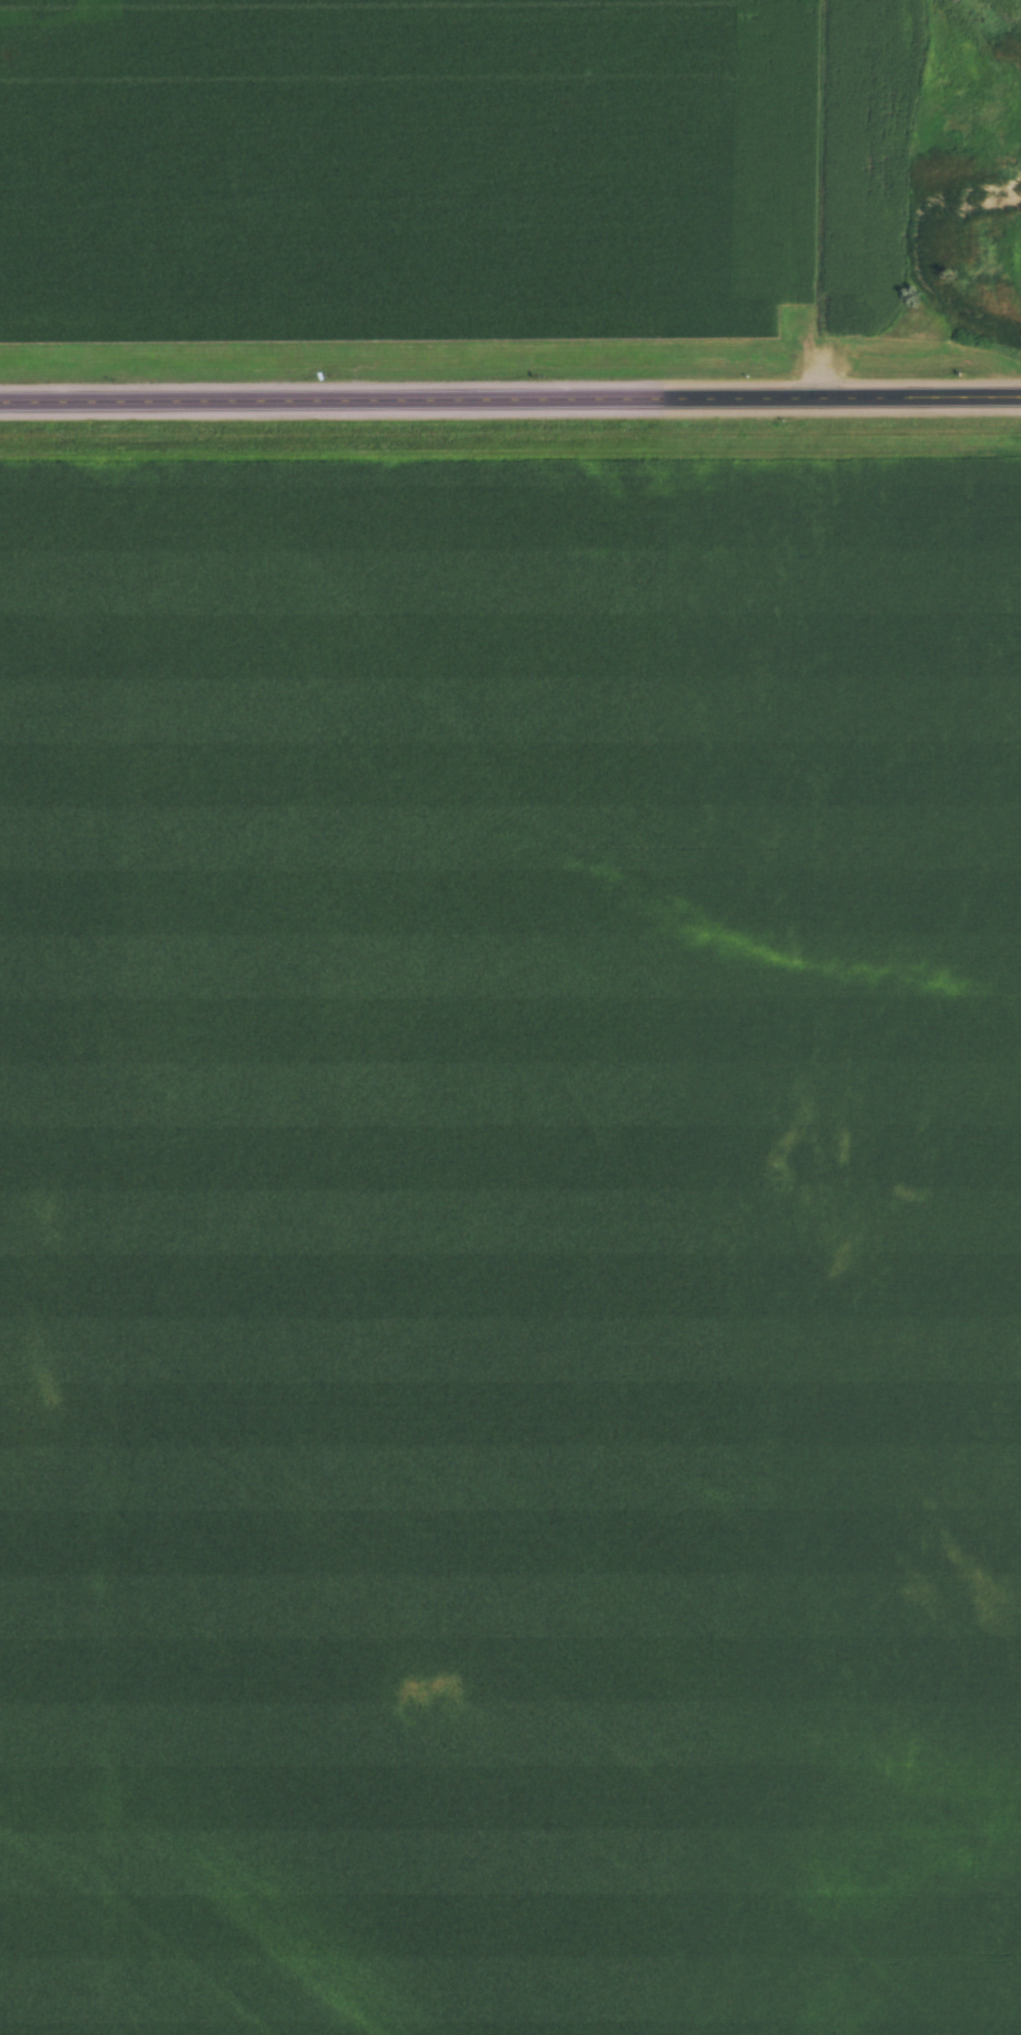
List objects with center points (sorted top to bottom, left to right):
road: (510, 403)

